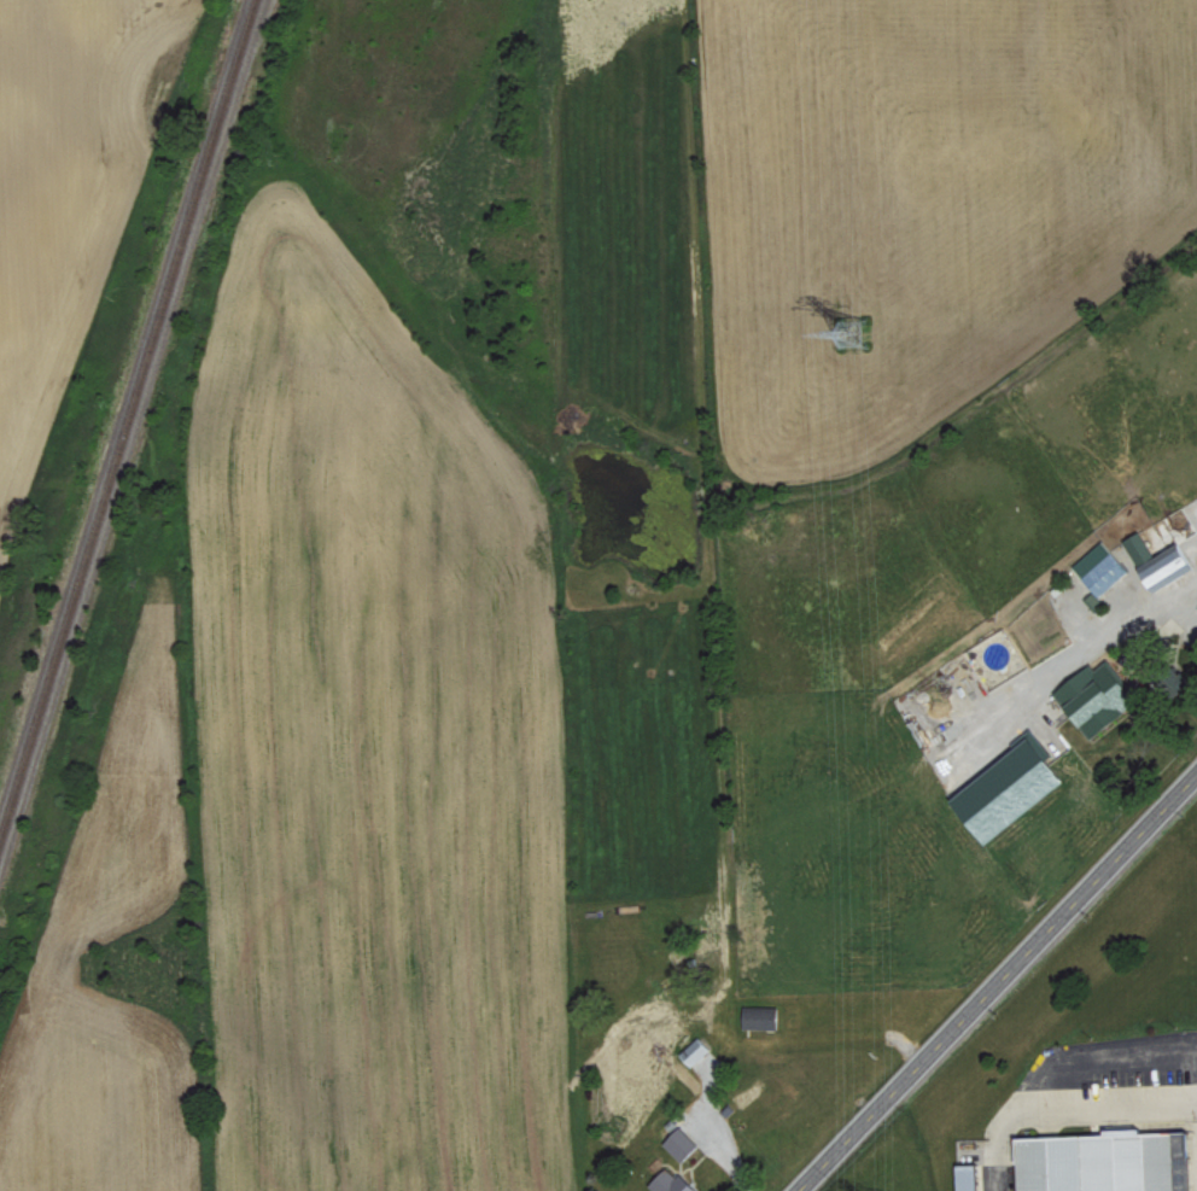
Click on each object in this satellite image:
power tower: (858, 335)
railway: (121, 405)
building: (1163, 559)
building: (1103, 567)
building: (1099, 696)
building: (1014, 789)
road: (999, 983)
building: (763, 1017)
building: (697, 1051)
road: (1091, 1105)
building: (683, 1144)
road: (998, 1161)
building: (1104, 1161)
building: (973, 1177)
building: (675, 1183)

